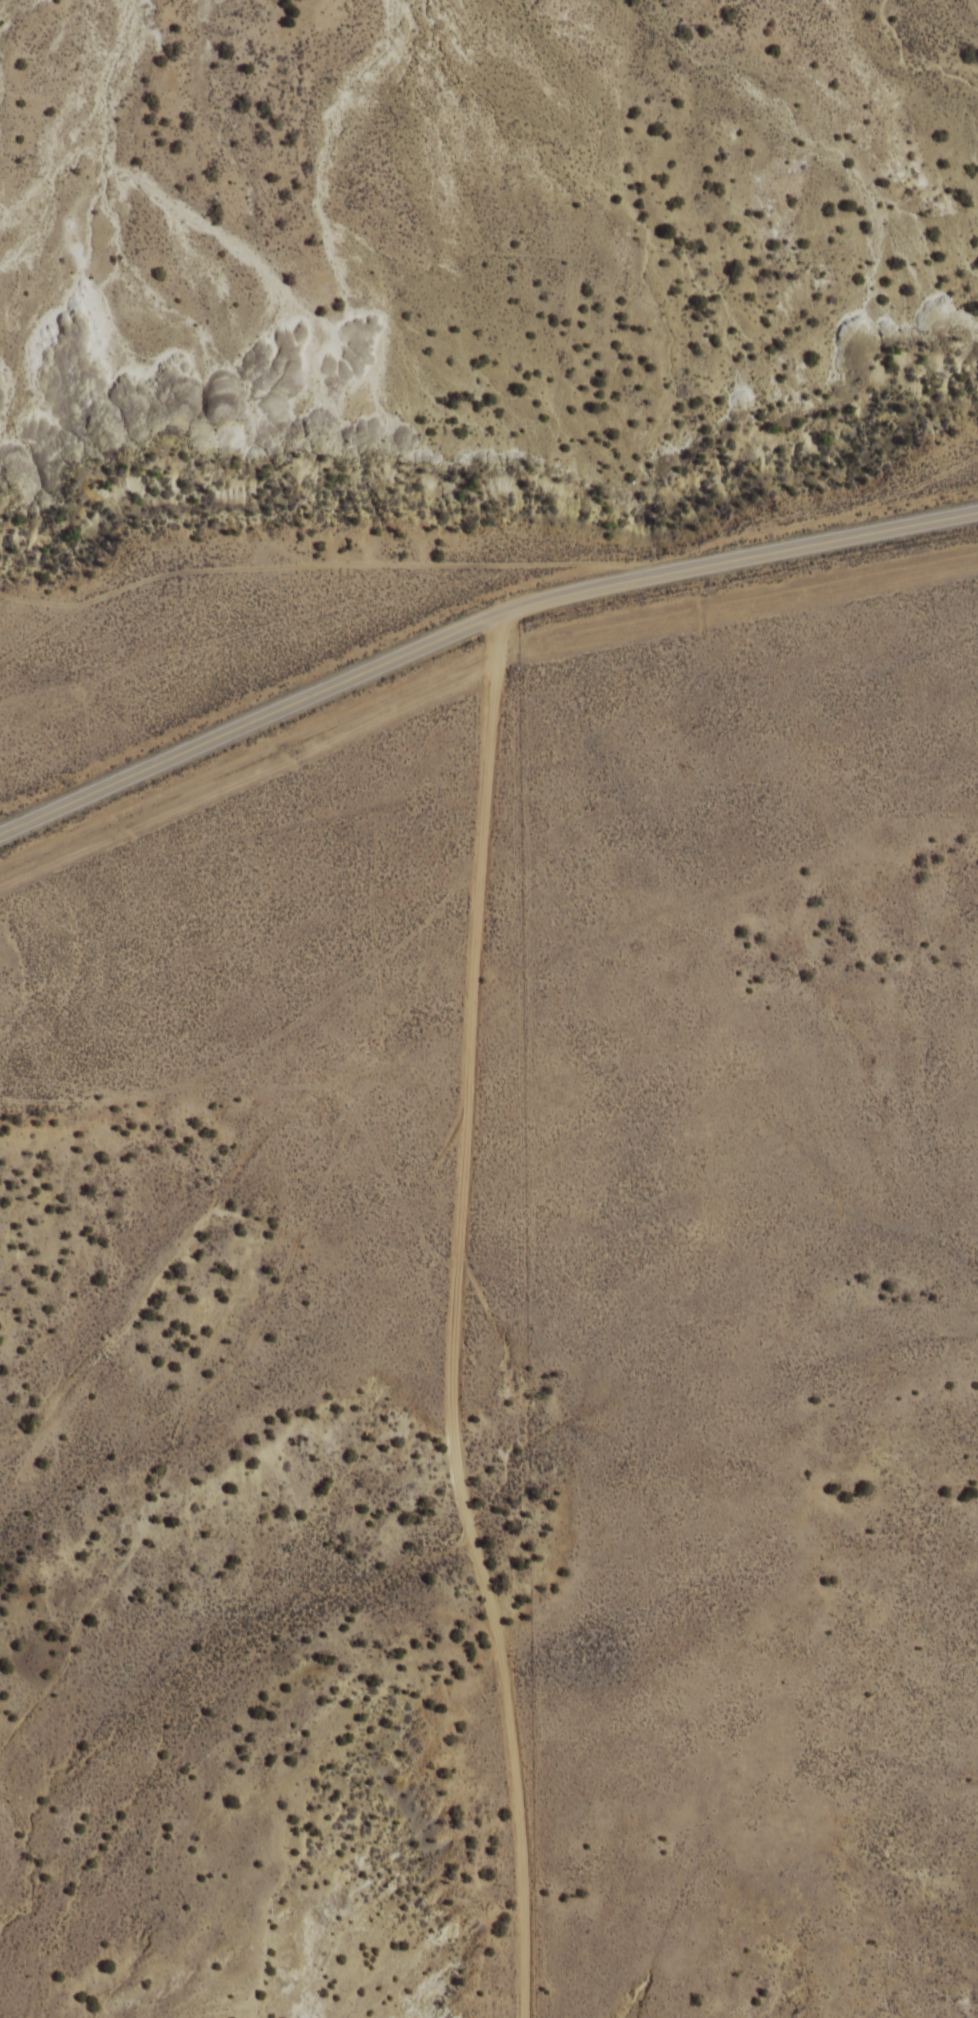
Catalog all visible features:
road: (473, 623)
road: (458, 1317)

